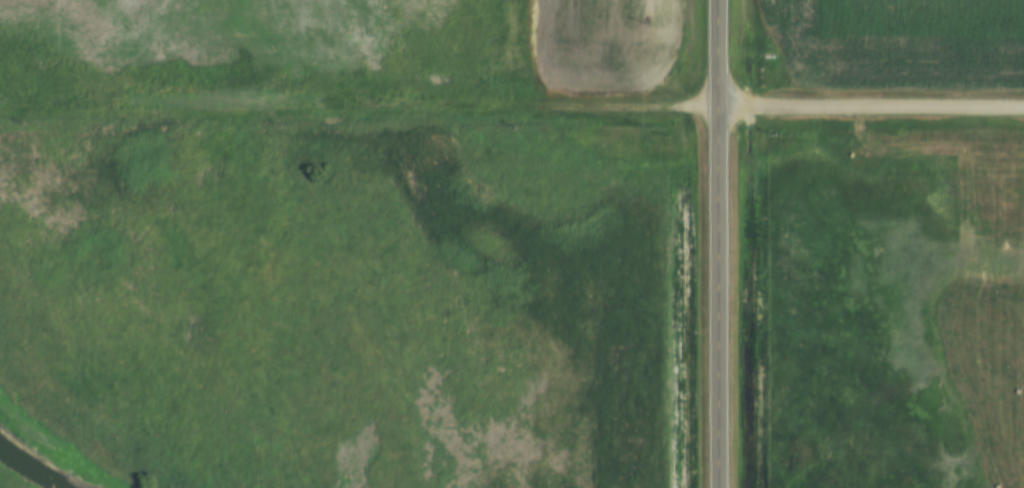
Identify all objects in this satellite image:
road: (362, 105)
road: (874, 107)
road: (725, 244)
river: (33, 468)

